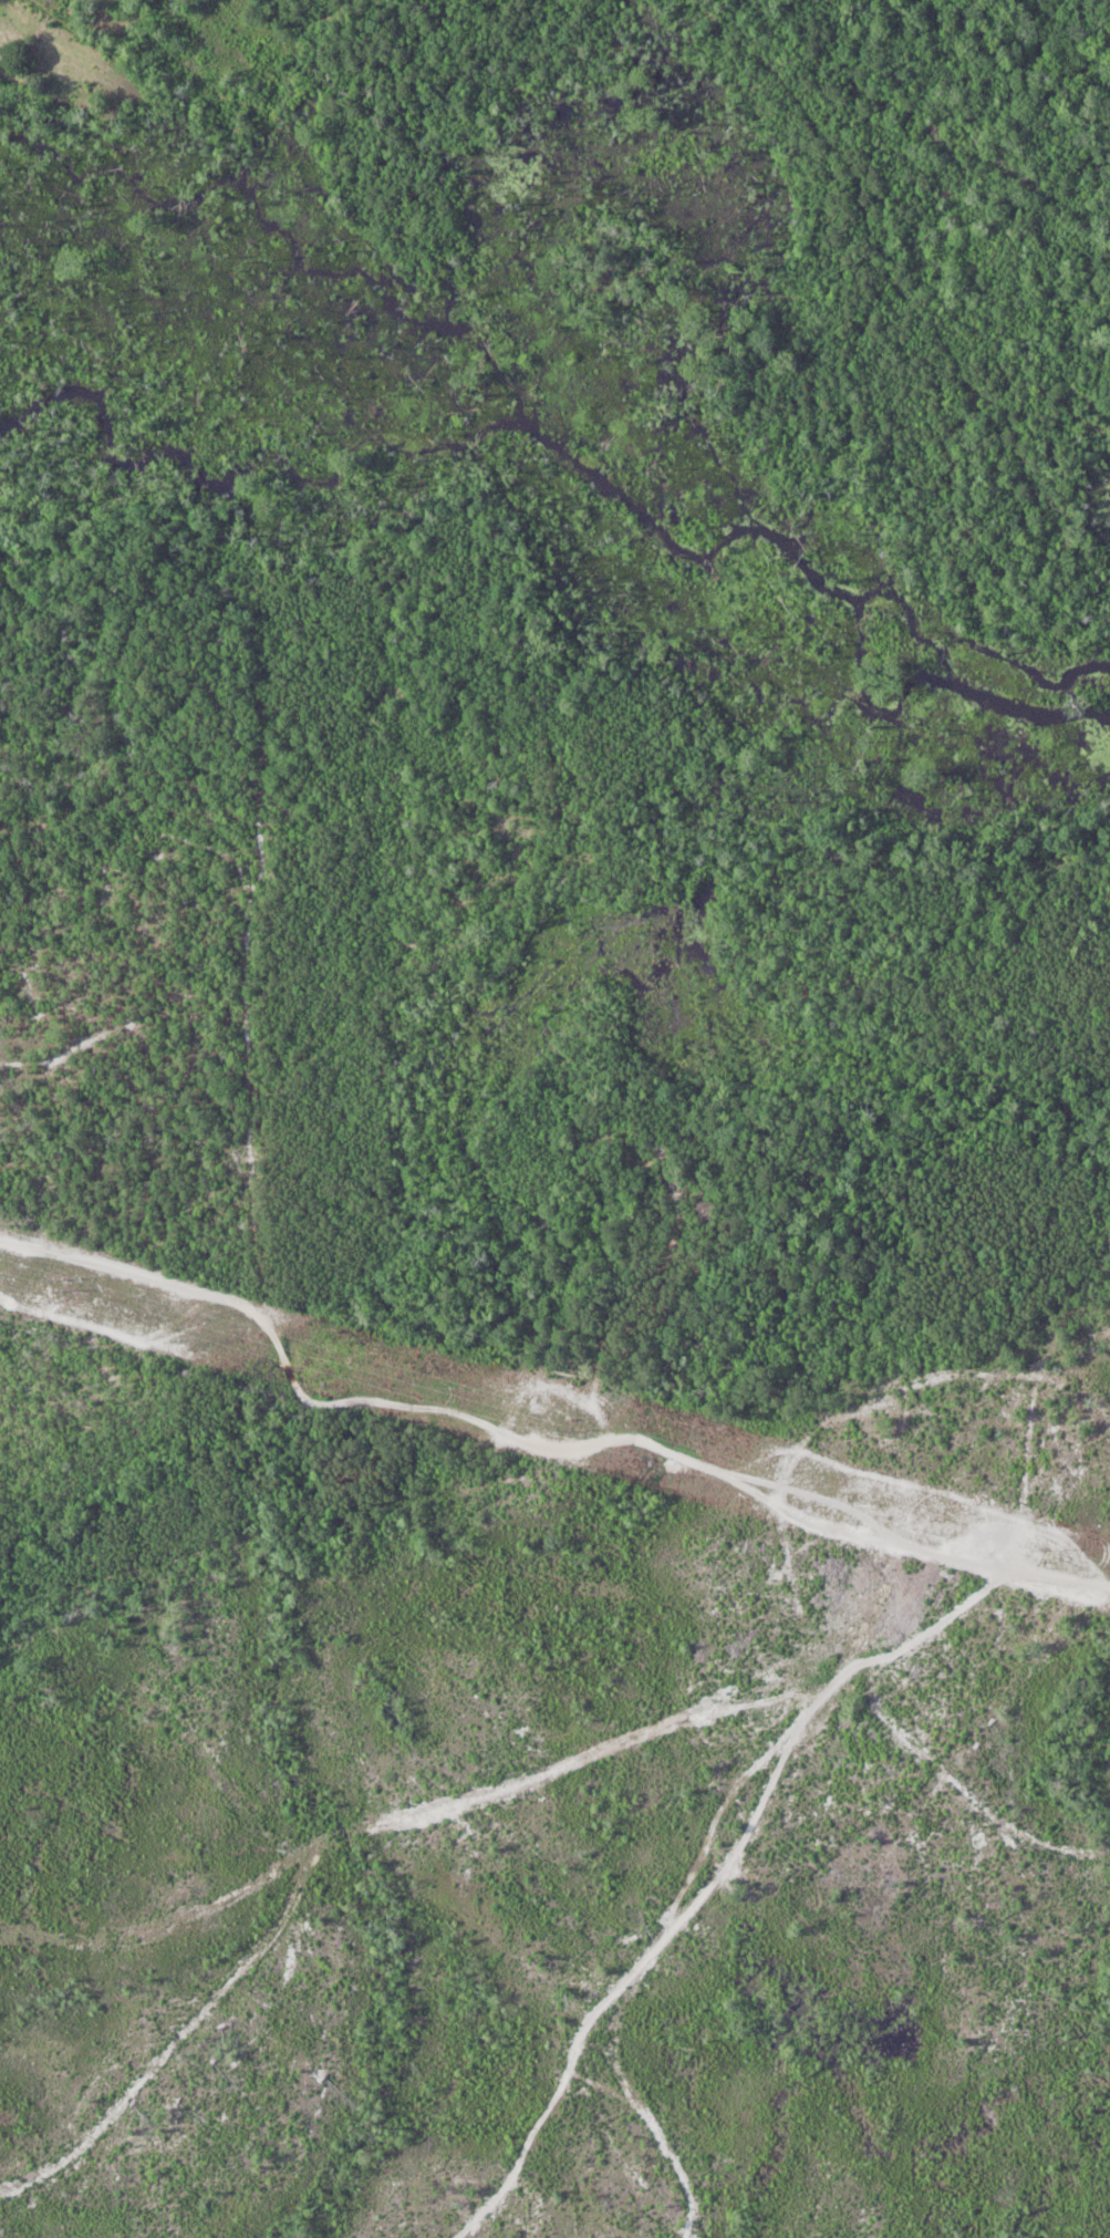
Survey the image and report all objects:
building: (706, 1211)
power tower: (56, 1284)
power tower: (569, 1427)
power tower: (1044, 1556)

